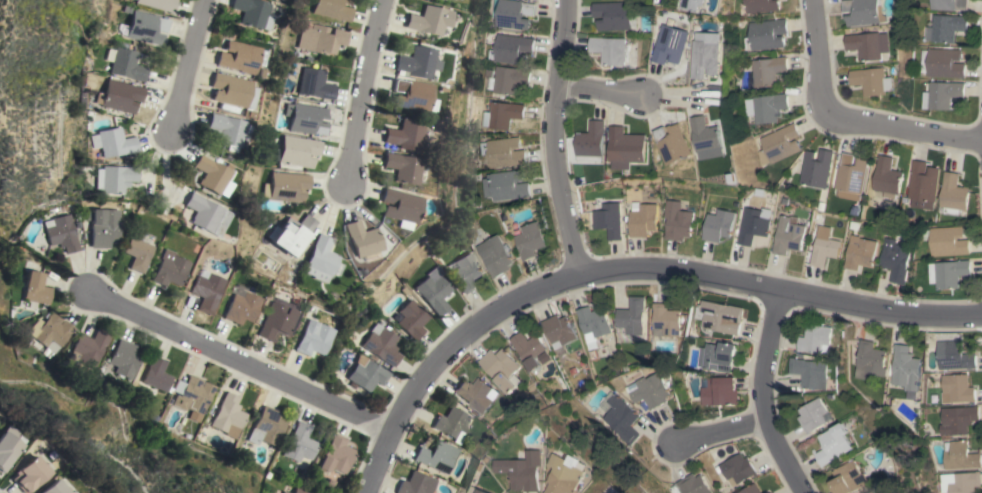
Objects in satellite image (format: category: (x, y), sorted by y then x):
building: (159, 4)
building: (692, 4)
building: (948, 4)
building: (758, 6)
building: (332, 9)
building: (864, 12)
building: (251, 13)
building: (513, 13)
building: (613, 15)
building: (426, 20)
building: (146, 27)
building: (947, 27)
building: (767, 34)
building: (320, 39)
building: (669, 44)
building: (869, 44)
building: (511, 49)
building: (609, 49)
building: (705, 54)
building: (238, 57)
building: (415, 63)
building: (945, 63)
building: (125, 64)
road: (184, 65)
building: (768, 70)
building: (508, 80)
building: (873, 81)
building: (315, 84)
road: (599, 89)
building: (230, 91)
road: (361, 91)
building: (941, 94)
building: (119, 96)
building: (411, 96)
building: (765, 107)
building: (501, 114)
building: (306, 118)
road: (847, 119)
building: (227, 131)
building: (404, 134)
road: (551, 138)
building: (708, 138)
building: (591, 142)
building: (114, 143)
building: (673, 144)
building: (779, 144)
building: (626, 148)
building: (297, 151)
building: (503, 152)
building: (400, 168)
building: (817, 168)
building: (210, 175)
building: (851, 175)
building: (887, 177)
building: (114, 178)
building: (923, 184)
building: (505, 185)
building: (286, 187)
building: (953, 194)
building: (396, 207)
building: (204, 214)
building: (642, 219)
building: (609, 220)
building: (677, 221)
building: (717, 223)
building: (755, 225)
building: (102, 227)
building: (61, 233)
building: (290, 234)
building: (788, 235)
building: (360, 240)
building: (530, 240)
building: (948, 241)
building: (138, 251)
building: (824, 251)
building: (860, 252)
building: (494, 255)
building: (895, 259)
building: (319, 260)
road: (639, 268)
building: (169, 269)
building: (464, 272)
building: (950, 273)
building: (36, 289)
building: (205, 290)
building: (434, 293)
building: (240, 306)
building: (632, 316)
building: (719, 316)
building: (279, 319)
building: (410, 319)
building: (666, 320)
building: (593, 323)
building: (559, 330)
building: (50, 333)
building: (313, 338)
building: (816, 339)
building: (382, 344)
building: (89, 347)
building: (529, 348)
building: (719, 356)
building: (954, 356)
building: (123, 359)
building: (870, 360)
road: (246, 363)
building: (502, 369)
building: (906, 370)
building: (812, 372)
building: (156, 374)
building: (366, 374)
building: (957, 389)
building: (649, 390)
building: (719, 391)
building: (477, 394)
building: (193, 395)
road: (760, 397)
building: (227, 414)
building: (814, 415)
building: (620, 416)
building: (958, 419)
building: (452, 423)
building: (266, 427)
road: (717, 430)
building: (300, 443)
building: (835, 444)
building: (7, 445)
building: (336, 455)
building: (960, 455)
building: (437, 456)
building: (737, 469)
building: (525, 470)
building: (28, 474)
building: (568, 474)
building: (851, 478)
road: (377, 481)
building: (959, 482)
building: (416, 484)
building: (693, 484)
building: (51, 488)
building: (751, 489)
building: (478, 490)
building: (297, 491)
building: (284, 492)
building: (767, 492)

